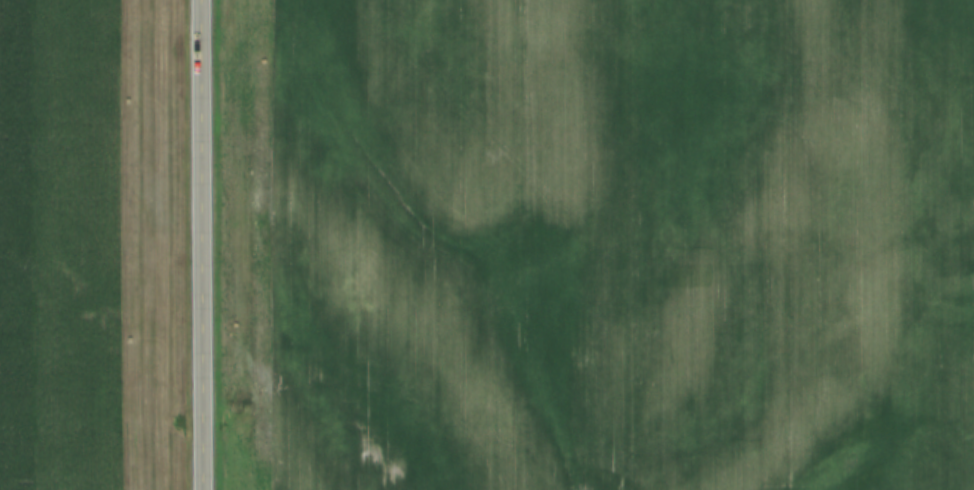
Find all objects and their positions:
road: (201, 244)

